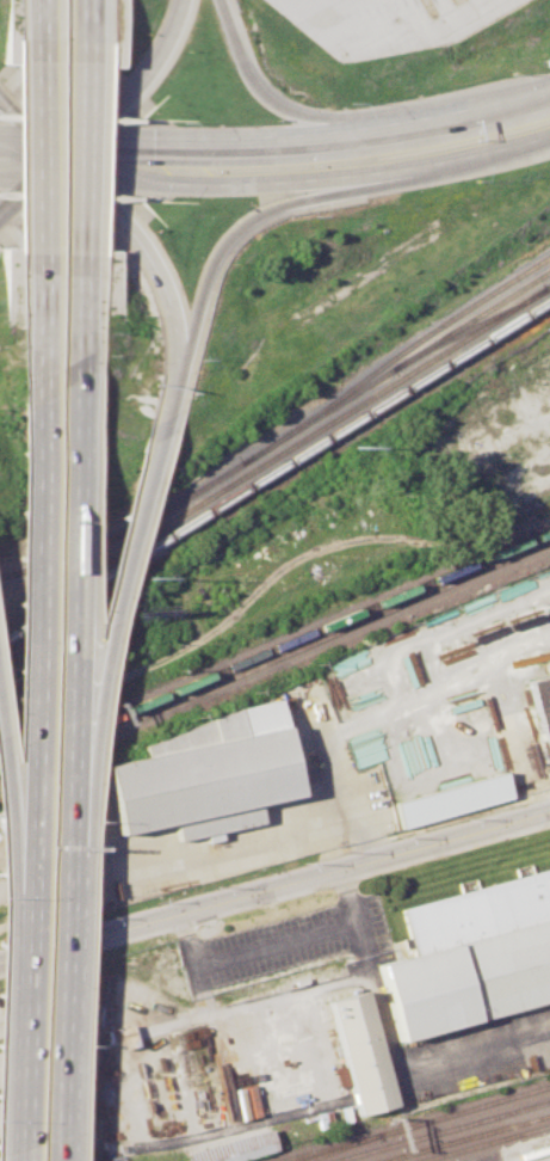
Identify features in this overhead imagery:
parking lot: (389, 23)
road: (44, 30)
road: (89, 31)
road: (137, 87)
road: (264, 93)
road: (457, 110)
road: (31, 118)
road: (212, 136)
road: (31, 145)
traffic signals: (63, 150)
road: (31, 156)
road: (42, 158)
road: (85, 158)
road: (307, 178)
road: (31, 182)
road: (258, 215)
road: (138, 239)
railway: (477, 313)
railway: (472, 325)
road: (78, 331)
road: (39, 333)
railway: (395, 354)
road: (161, 394)
railway: (274, 455)
railway: (274, 468)
railway: (209, 481)
road: (70, 600)
road: (107, 614)
railway: (274, 644)
railway: (2, 649)
road: (30, 653)
railway: (273, 657)
road: (441, 686)
building: (542, 707)
railway: (123, 721)
building: (197, 774)
building: (451, 798)
road: (6, 823)
road: (277, 836)
road: (297, 881)
road: (346, 897)
road: (248, 952)
building: (471, 953)
road: (21, 956)
road: (61, 976)
road: (17, 1028)
building: (125, 1036)
building: (361, 1050)
road: (401, 1067)
railway: (471, 1107)
railway: (470, 1122)
railway: (344, 1134)
railway: (462, 1137)
railway: (482, 1142)
railway: (333, 1144)
railway: (335, 1147)
railway: (359, 1153)

